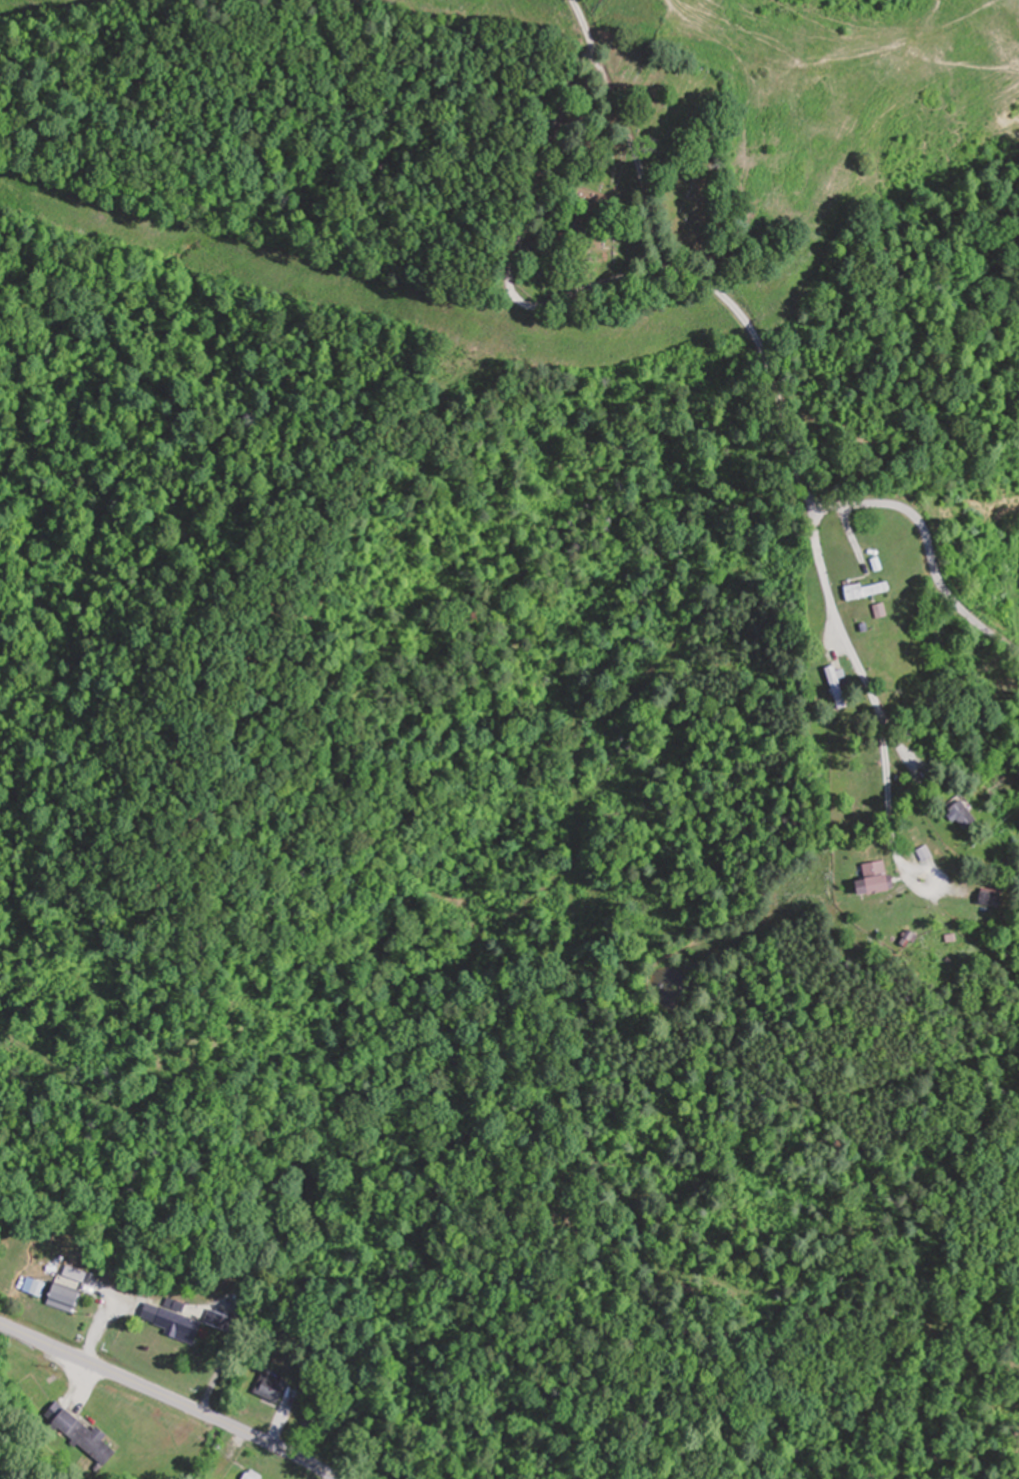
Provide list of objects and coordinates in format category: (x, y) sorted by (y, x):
road: (631, 145)
road: (521, 252)
road: (825, 507)
building: (868, 590)
building: (837, 687)
road: (872, 689)
building: (962, 816)
building: (1006, 869)
building: (871, 879)
building: (43, 1288)
building: (70, 1299)
building: (216, 1318)
building: (177, 1323)
building: (276, 1389)
road: (167, 1397)
building: (86, 1437)
building: (252, 1476)

